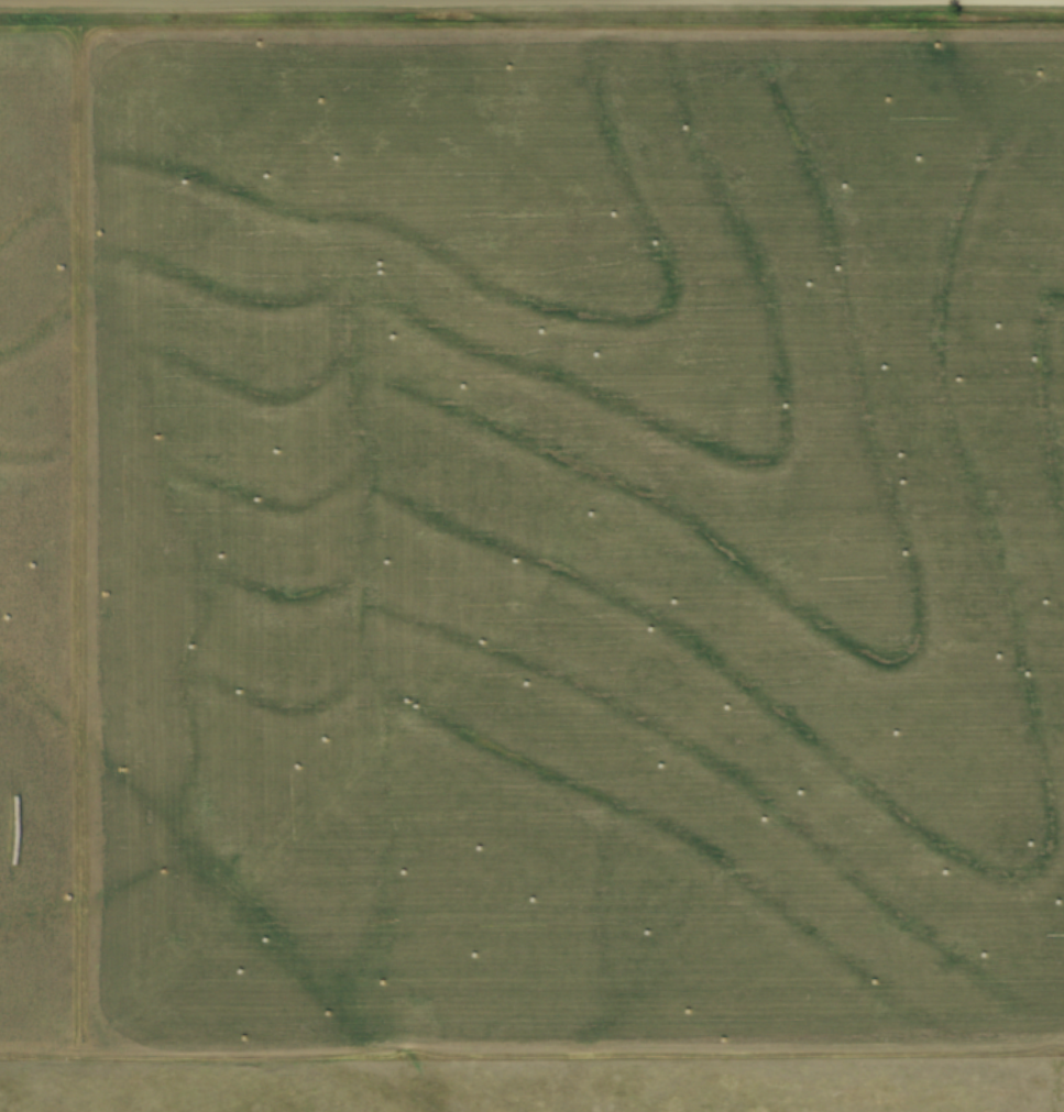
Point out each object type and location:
road: (531, 1)
road: (1047, 1)

